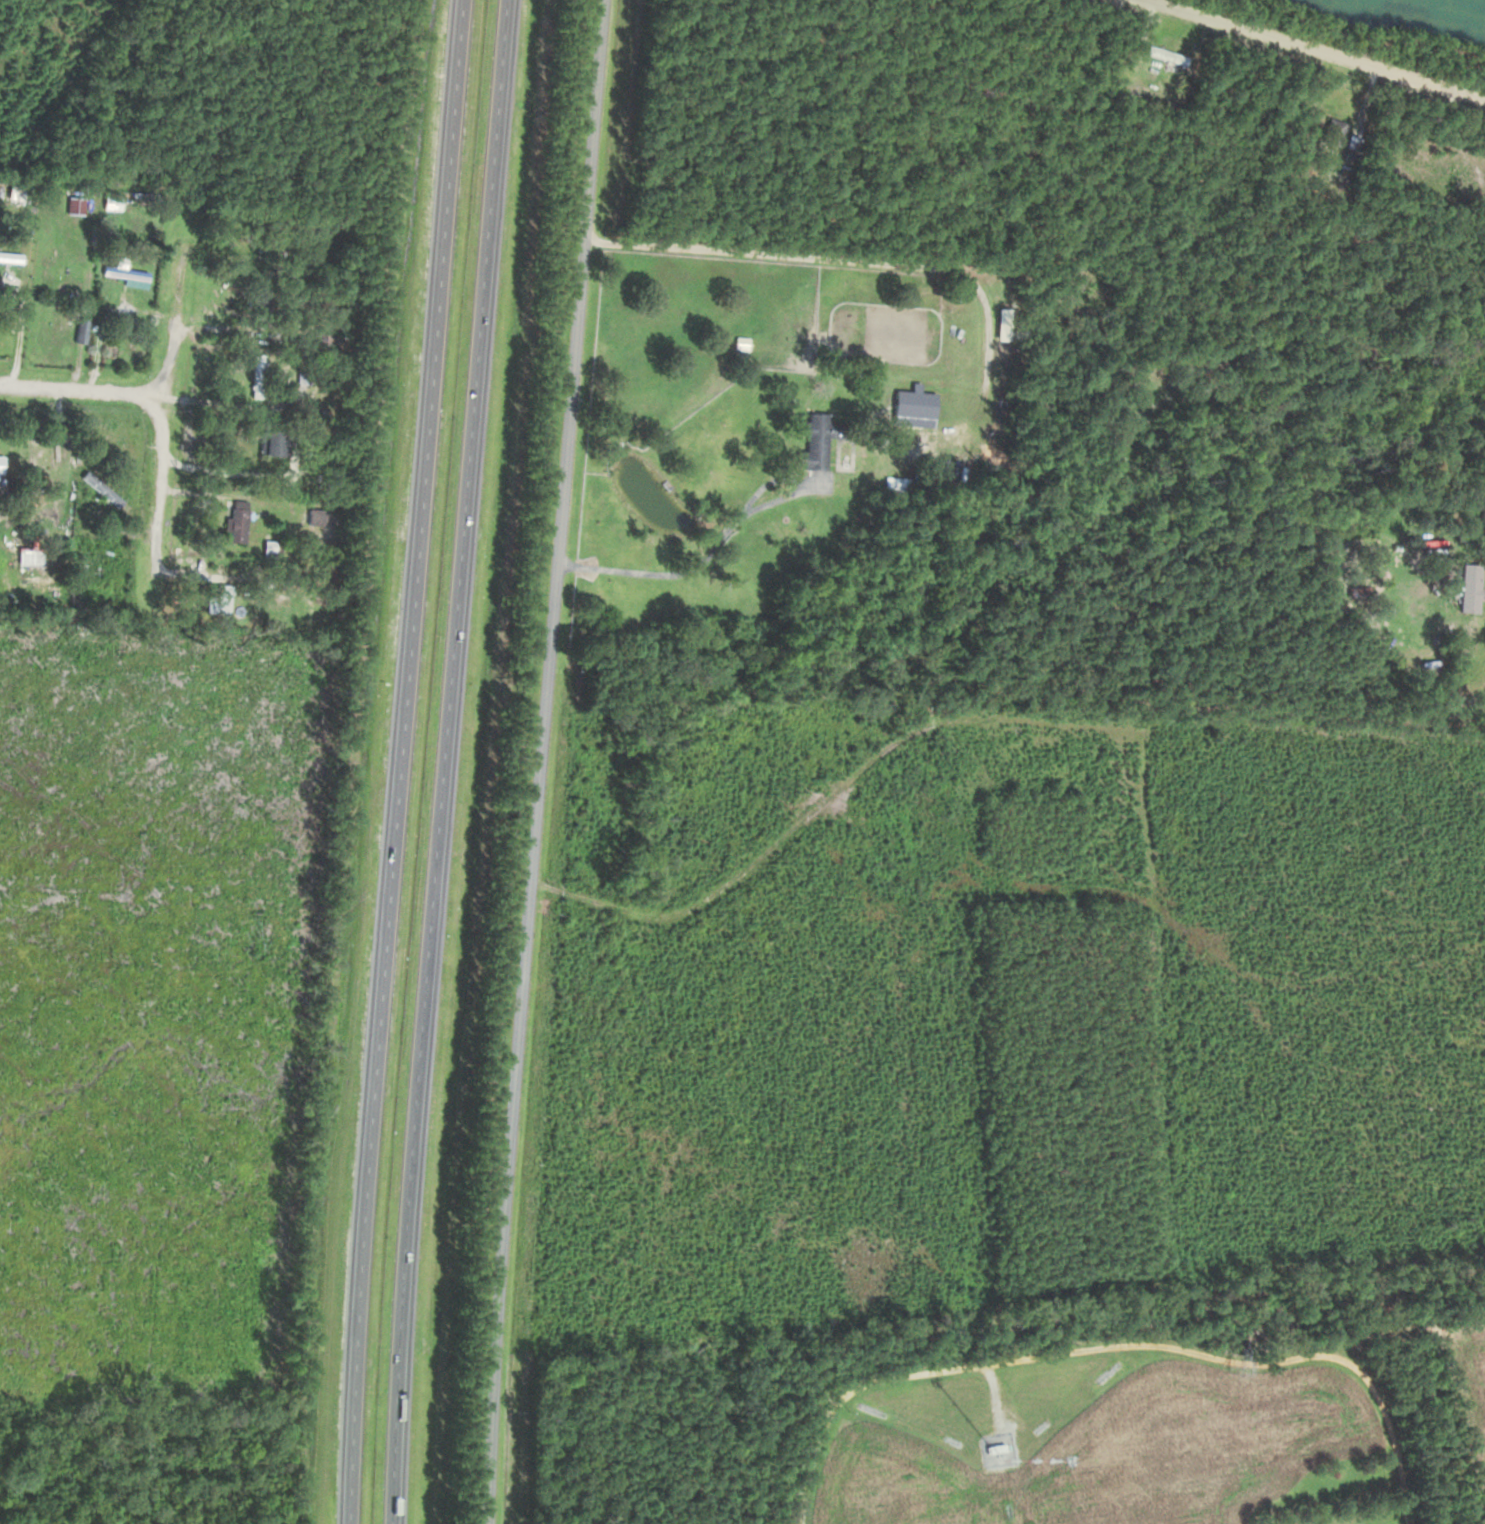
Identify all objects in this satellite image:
road: (1145, 34)
road: (1313, 48)
building: (1165, 54)
road: (1370, 97)
building: (1332, 131)
building: (80, 206)
building: (271, 247)
road: (837, 257)
building: (58, 279)
building: (259, 300)
building: (257, 375)
road: (84, 391)
building: (913, 407)
road: (166, 428)
building: (814, 440)
building: (269, 442)
building: (0, 466)
road: (769, 480)
building: (101, 488)
building: (315, 517)
building: (236, 521)
building: (266, 549)
road: (1481, 552)
road: (703, 561)
building: (1469, 587)
road: (883, 746)
road: (402, 761)
road: (444, 761)
road: (540, 761)
building: (994, 1450)

